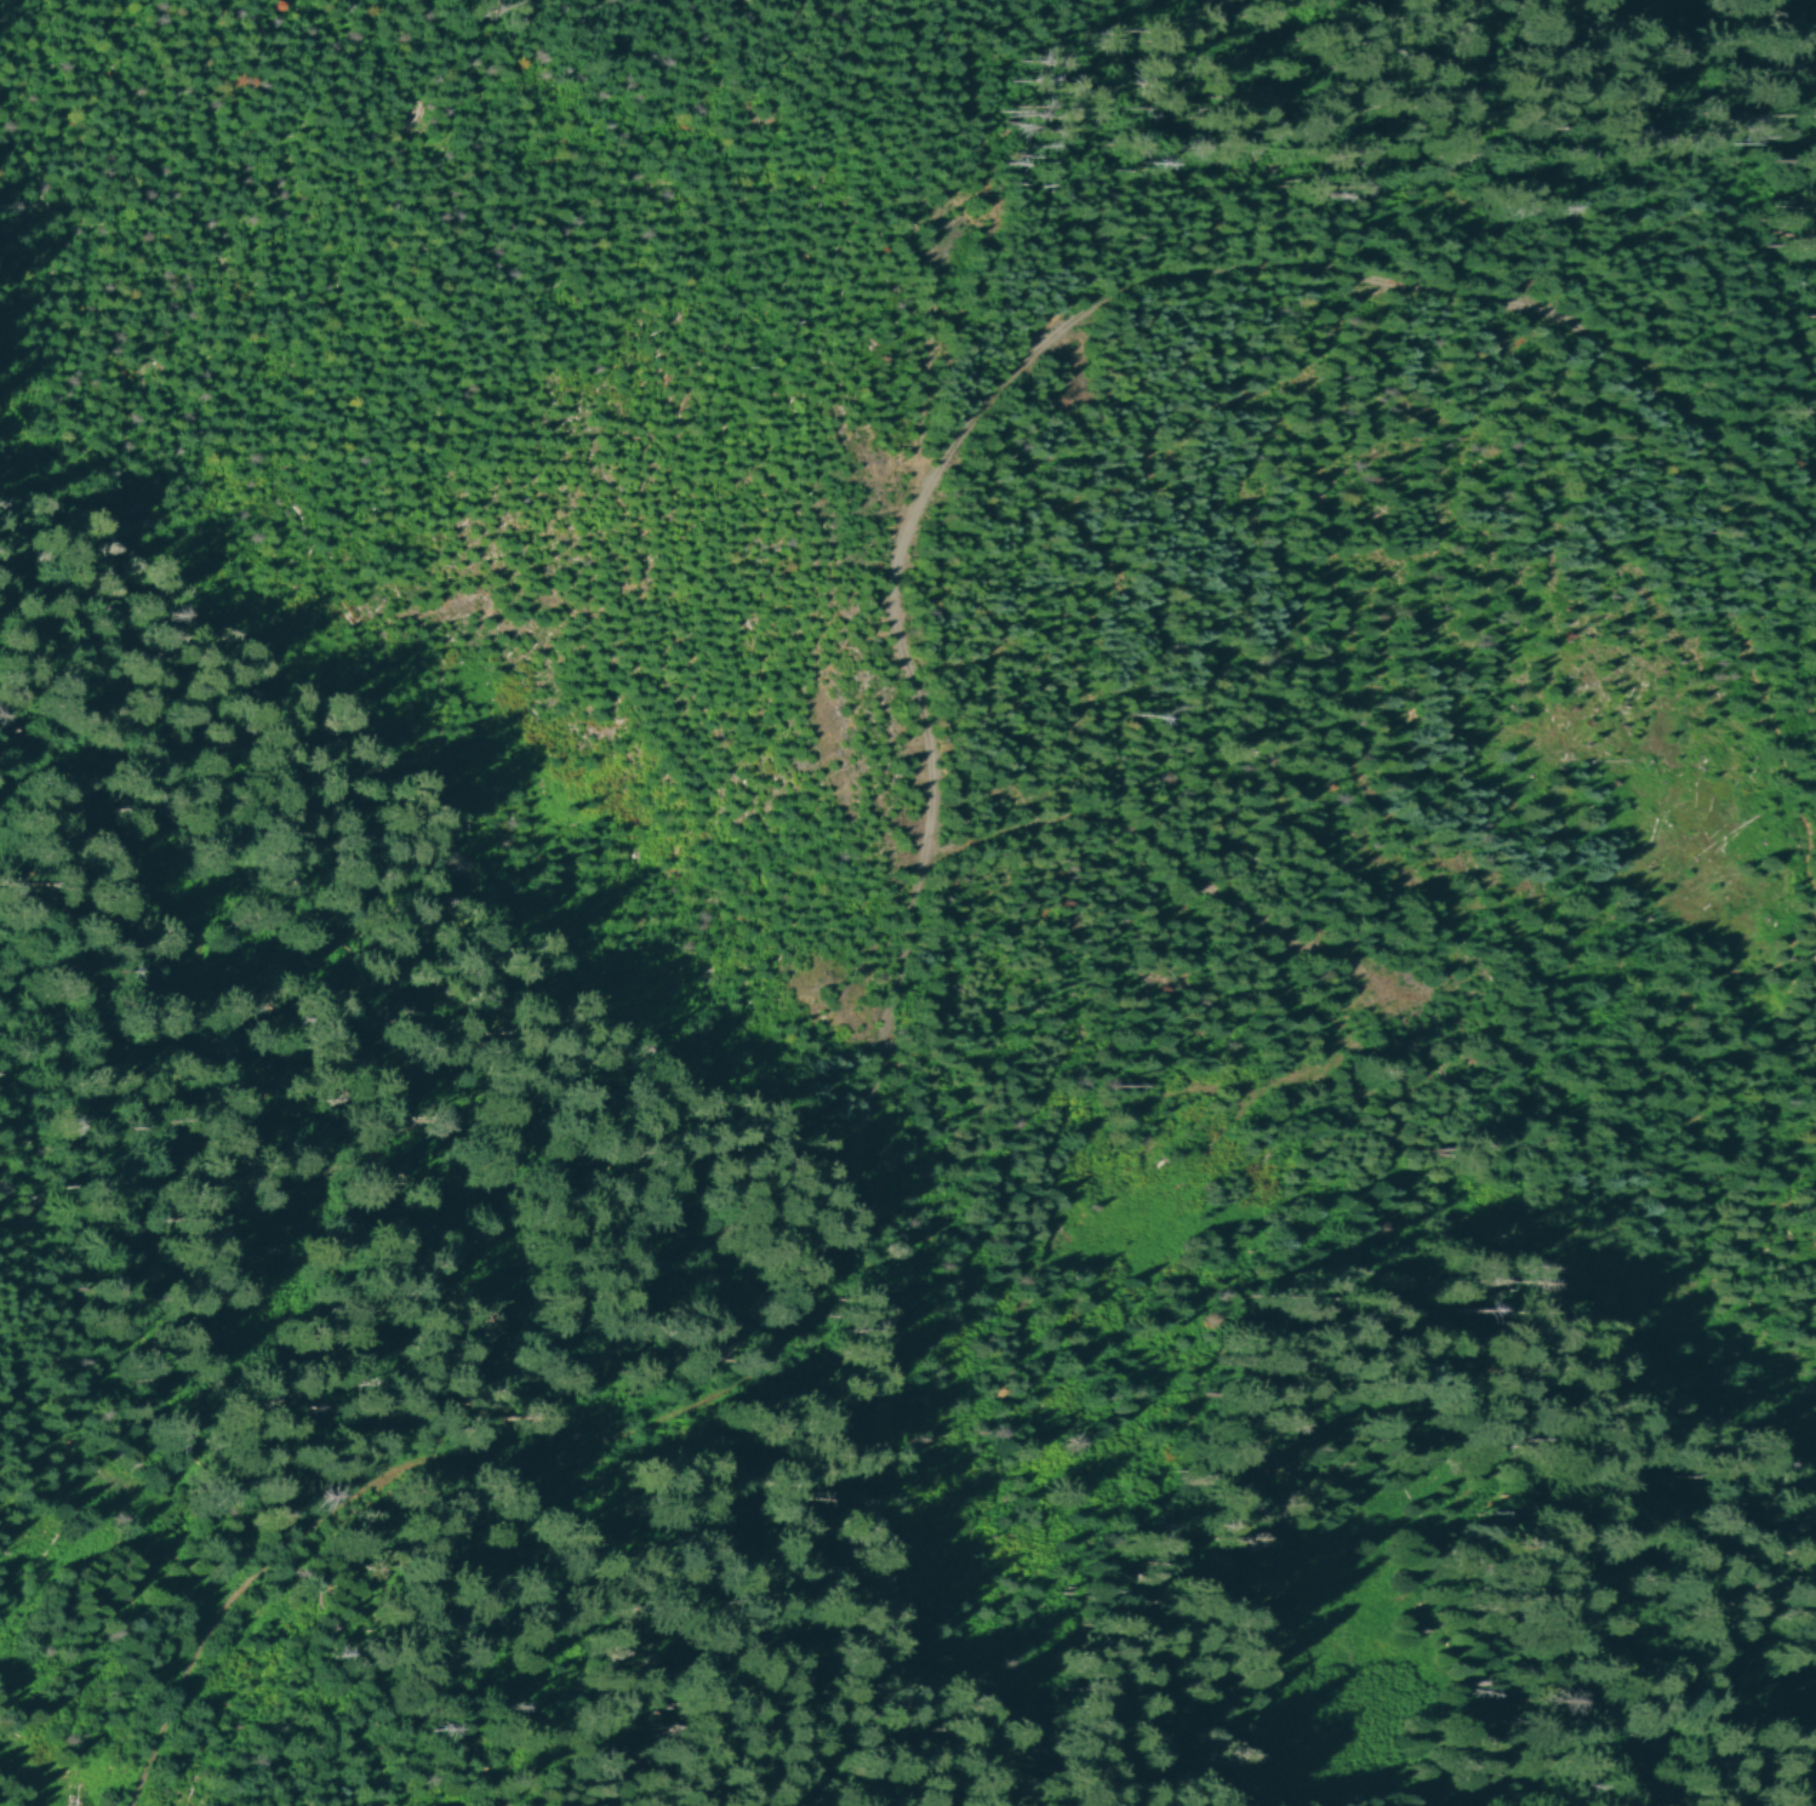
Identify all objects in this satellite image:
road: (919, 830)
road: (1154, 859)
road: (1673, 1127)

